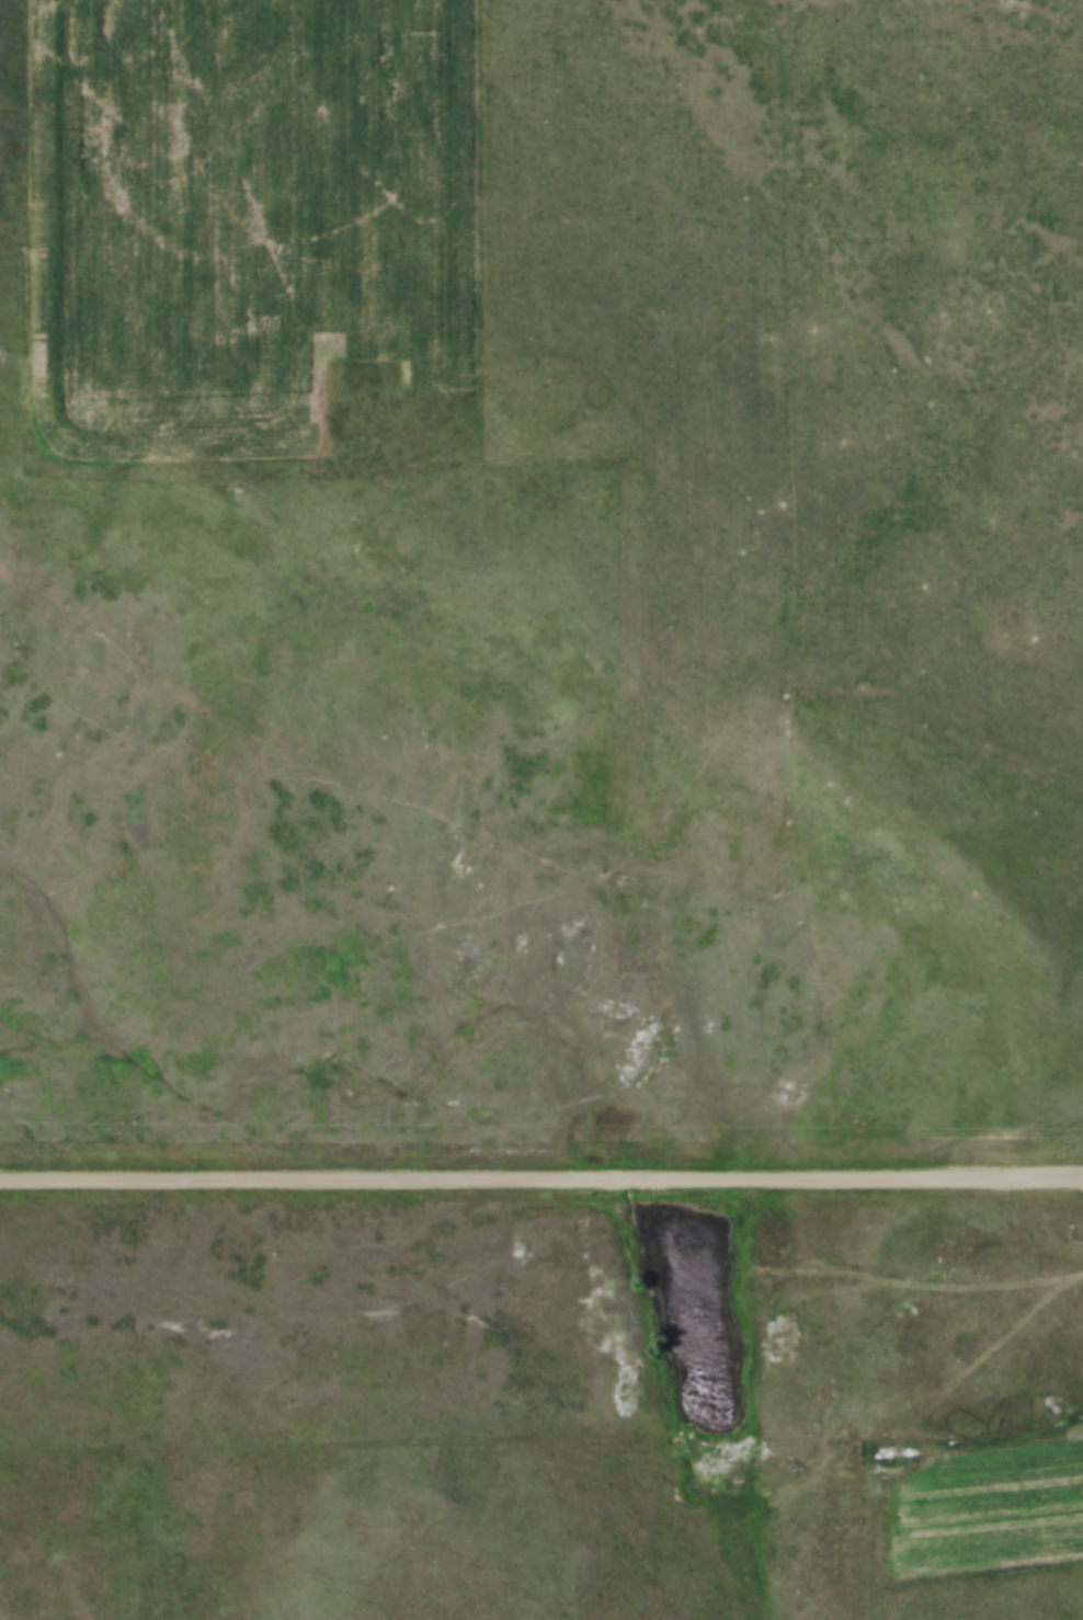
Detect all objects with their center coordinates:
road: (541, 1179)

